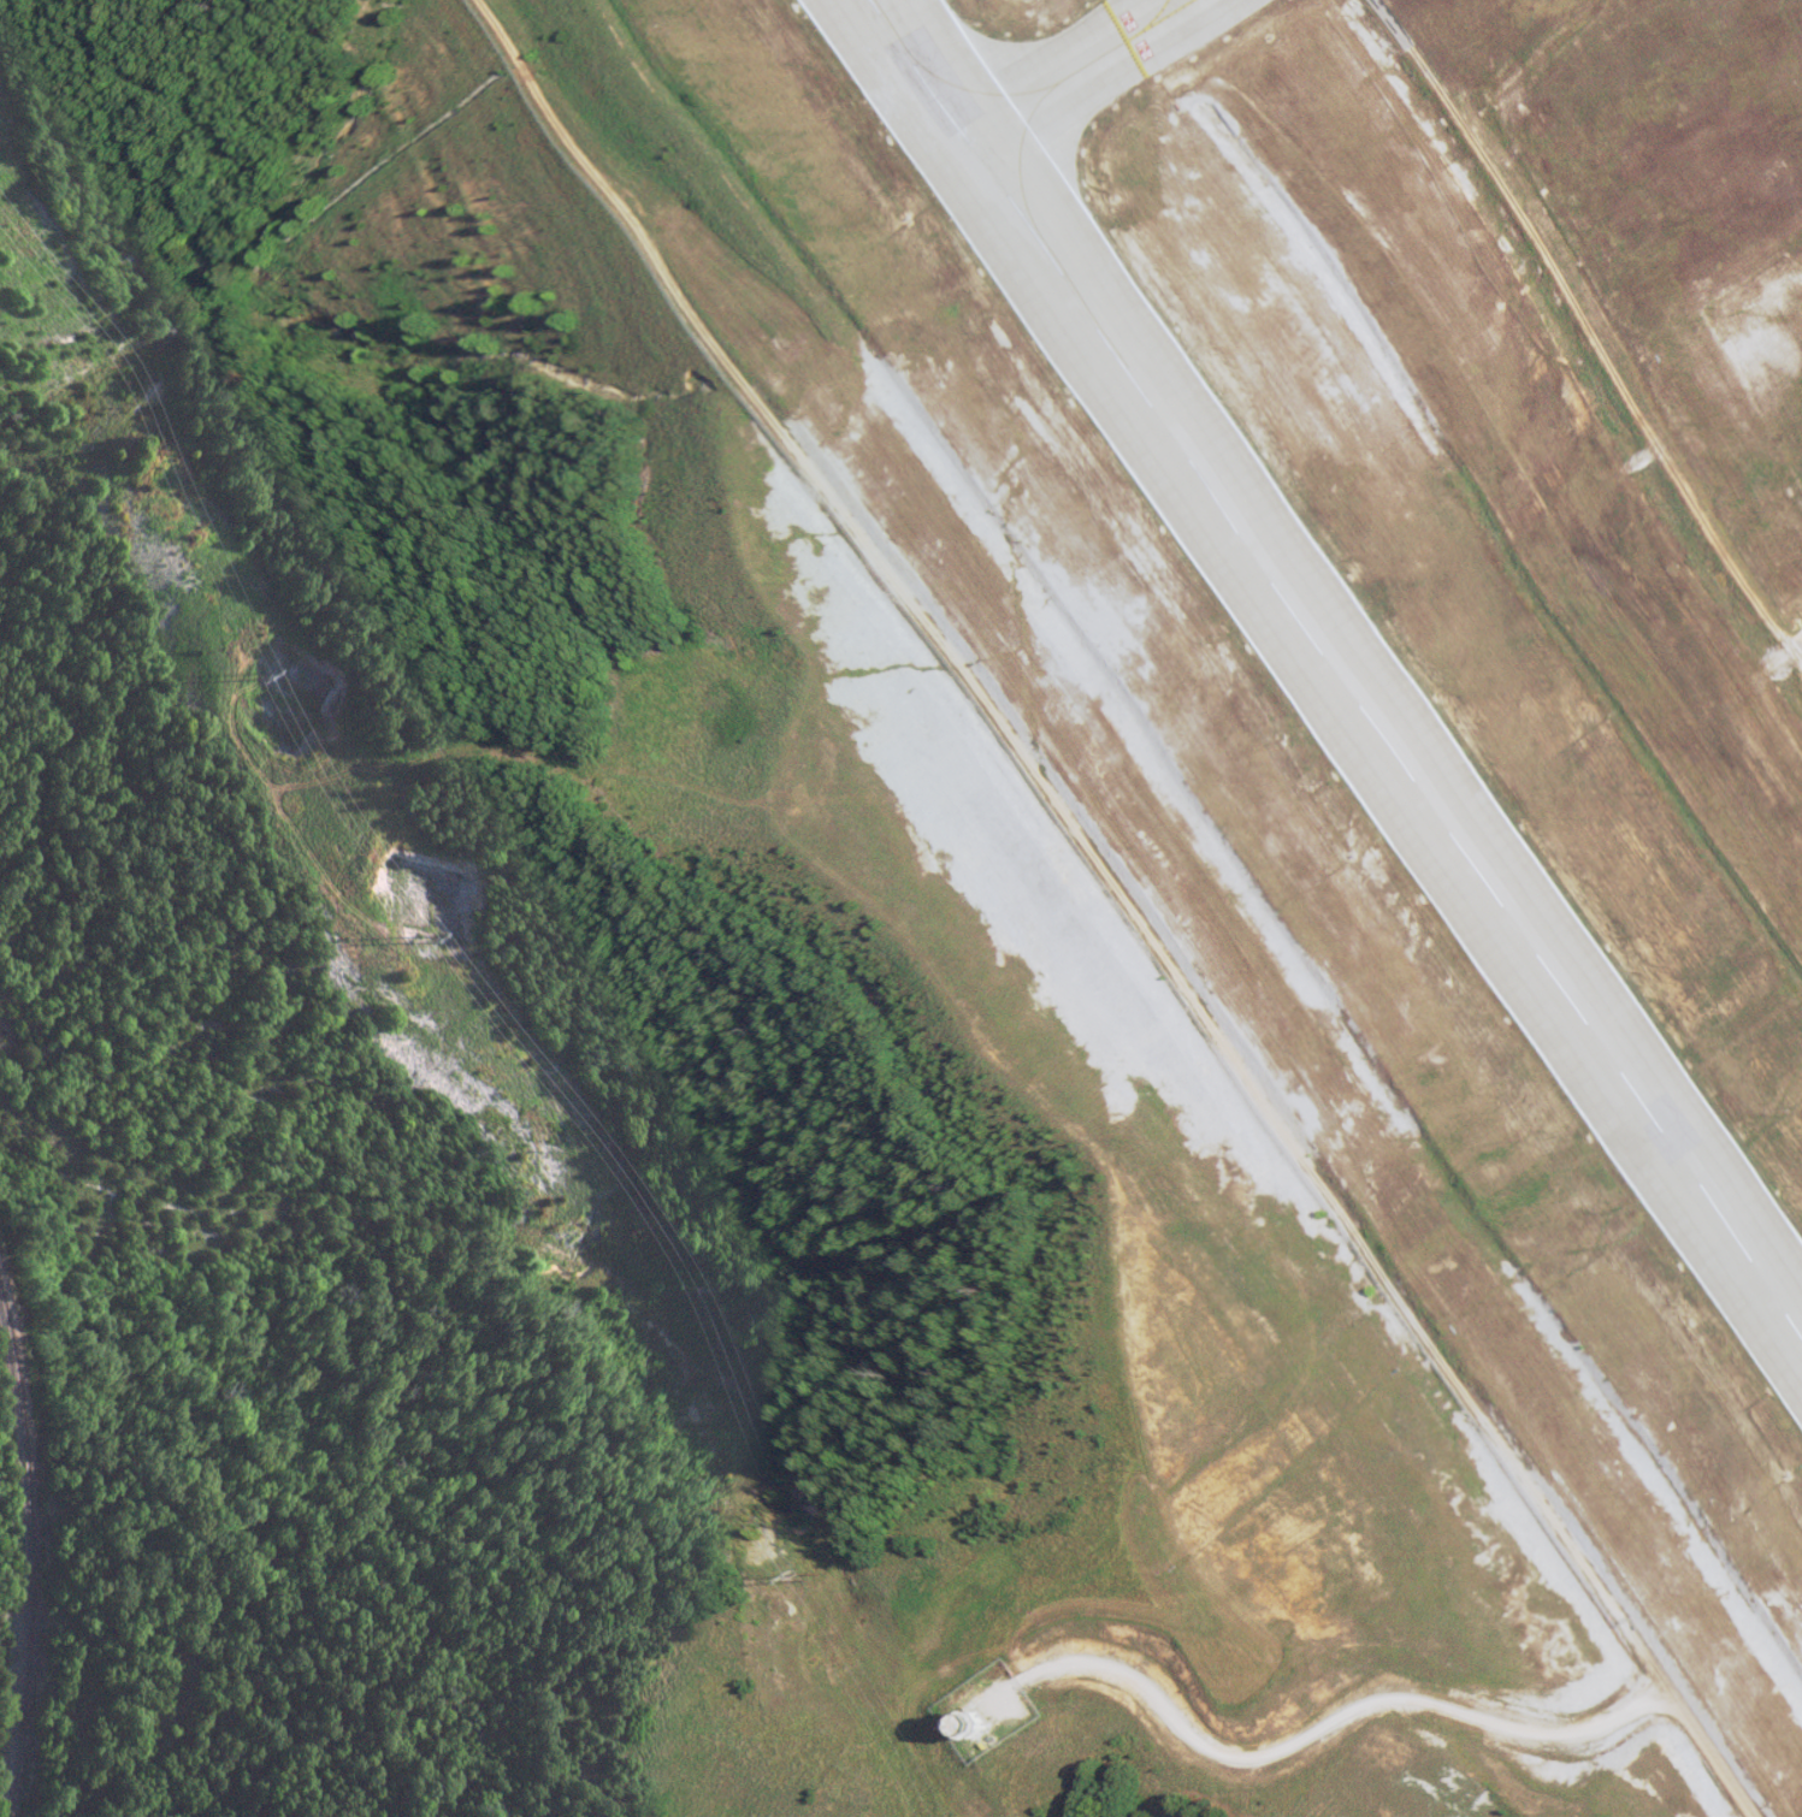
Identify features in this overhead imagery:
airport taxiway: (1132, 20)
airport taxiway: (1105, 46)
airport taxiway: (945, 99)
airport taxiway: (1004, 167)
power tower: (254, 682)
airport runway: (1324, 689)
airport: (1077, 791)
power tower: (413, 942)
railway: (28, 1490)
power tower: (798, 1579)
road: (1364, 1701)

